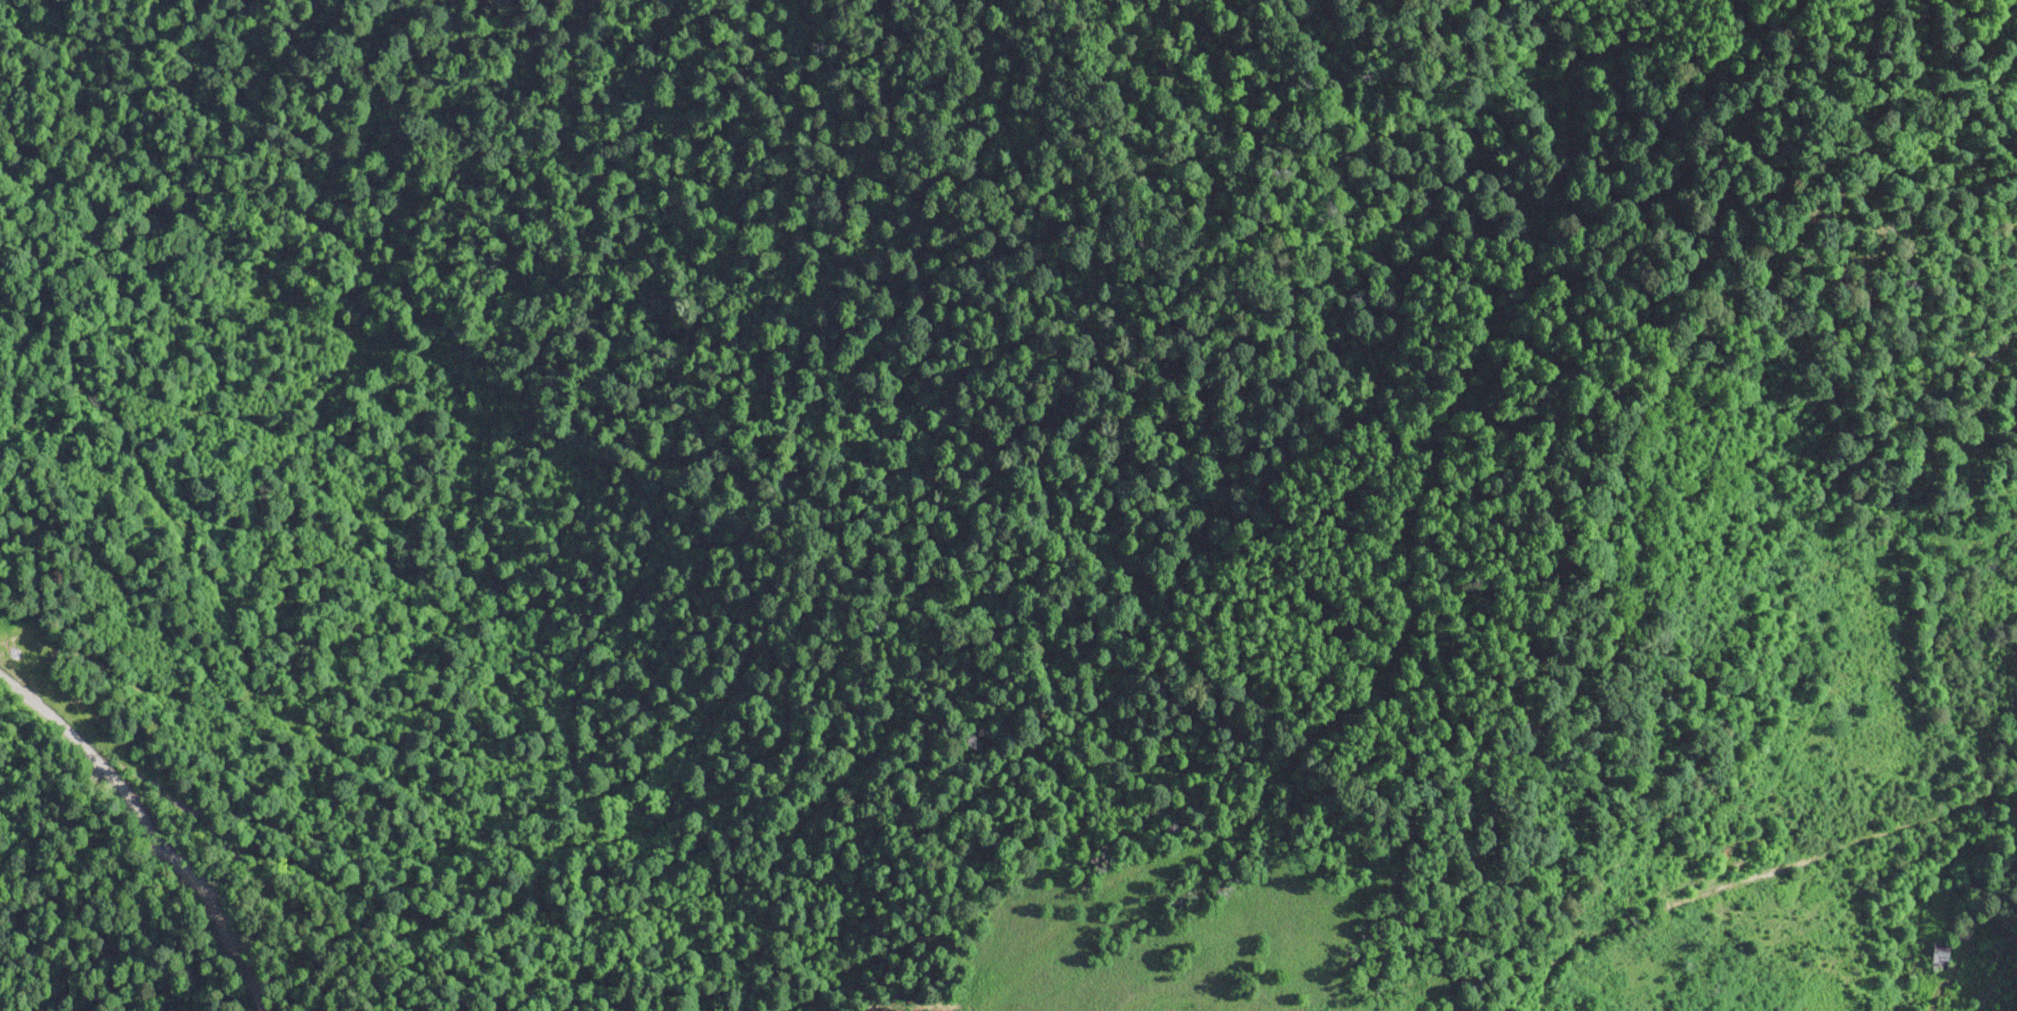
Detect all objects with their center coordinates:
road: (152, 829)
building: (1939, 954)

